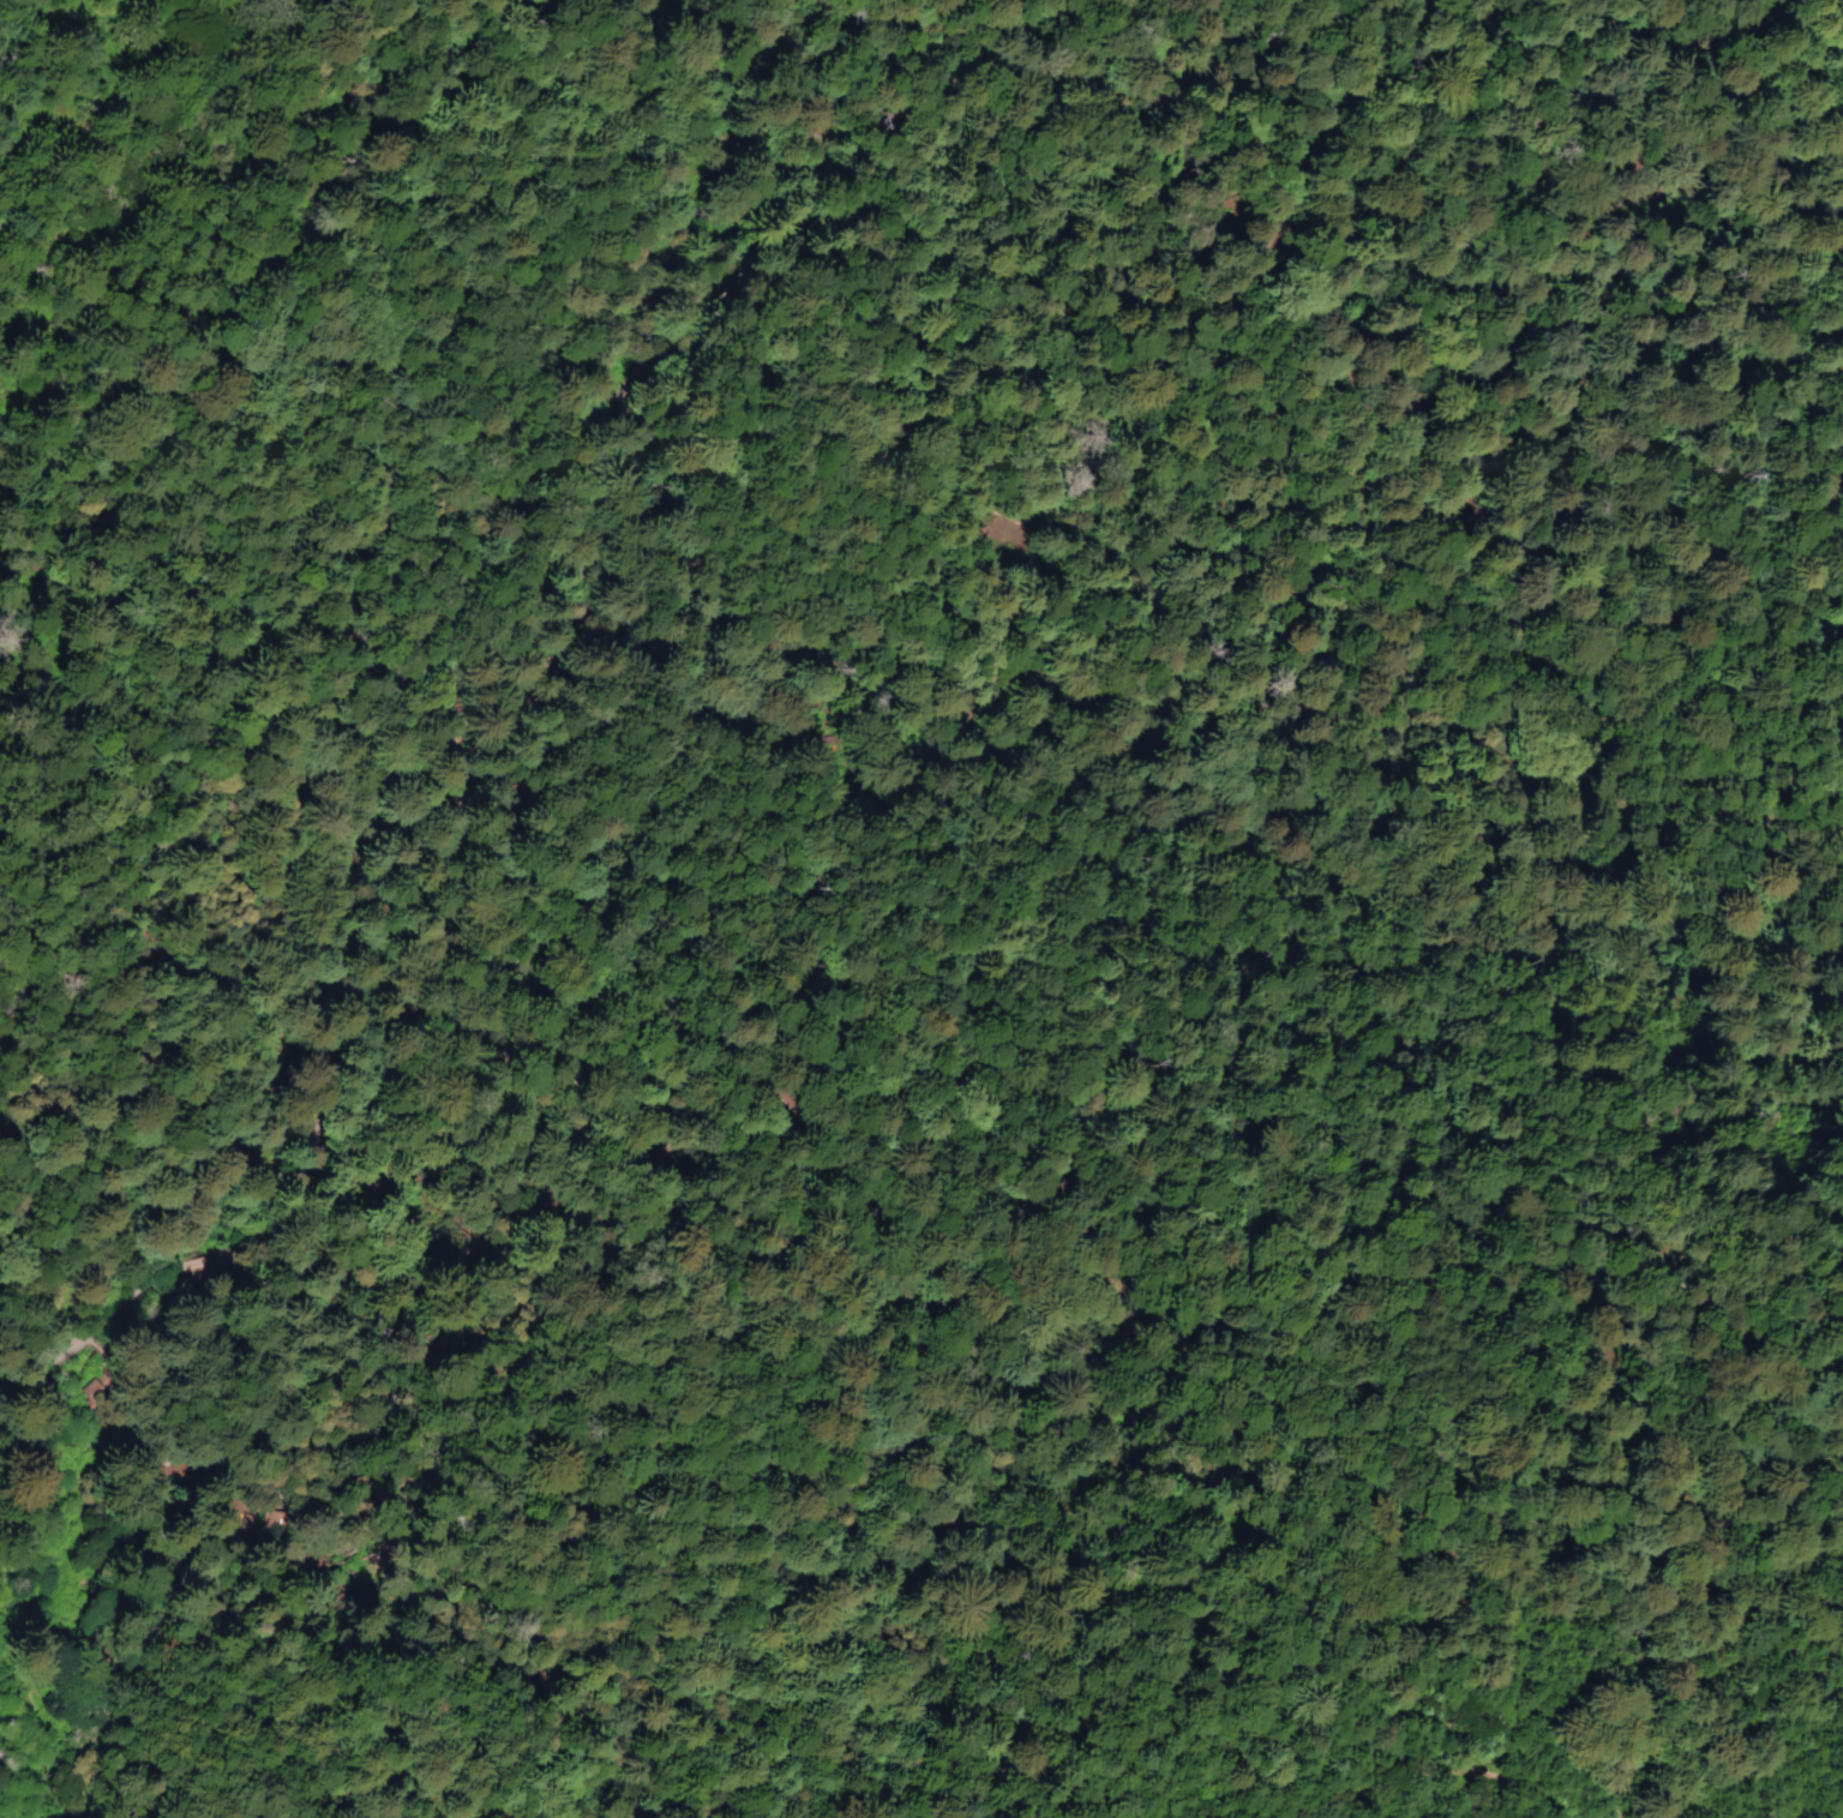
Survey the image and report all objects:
road: (1363, 37)
road: (793, 59)
road: (736, 104)
road: (1824, 198)
road: (1703, 274)
road: (272, 276)
road: (930, 318)
road: (446, 353)
road: (1463, 377)
road: (642, 419)
road: (797, 661)
road: (773, 677)
parking lot: (540, 726)
road: (486, 768)
road: (446, 820)
road: (464, 830)
road: (124, 841)
road: (436, 961)
road: (367, 1037)
road: (680, 1132)
road: (253, 1234)
road: (150, 1314)
road: (172, 1345)
road: (92, 1354)
road: (212, 1411)
road: (198, 1426)
road: (236, 1606)
road: (1457, 1787)

